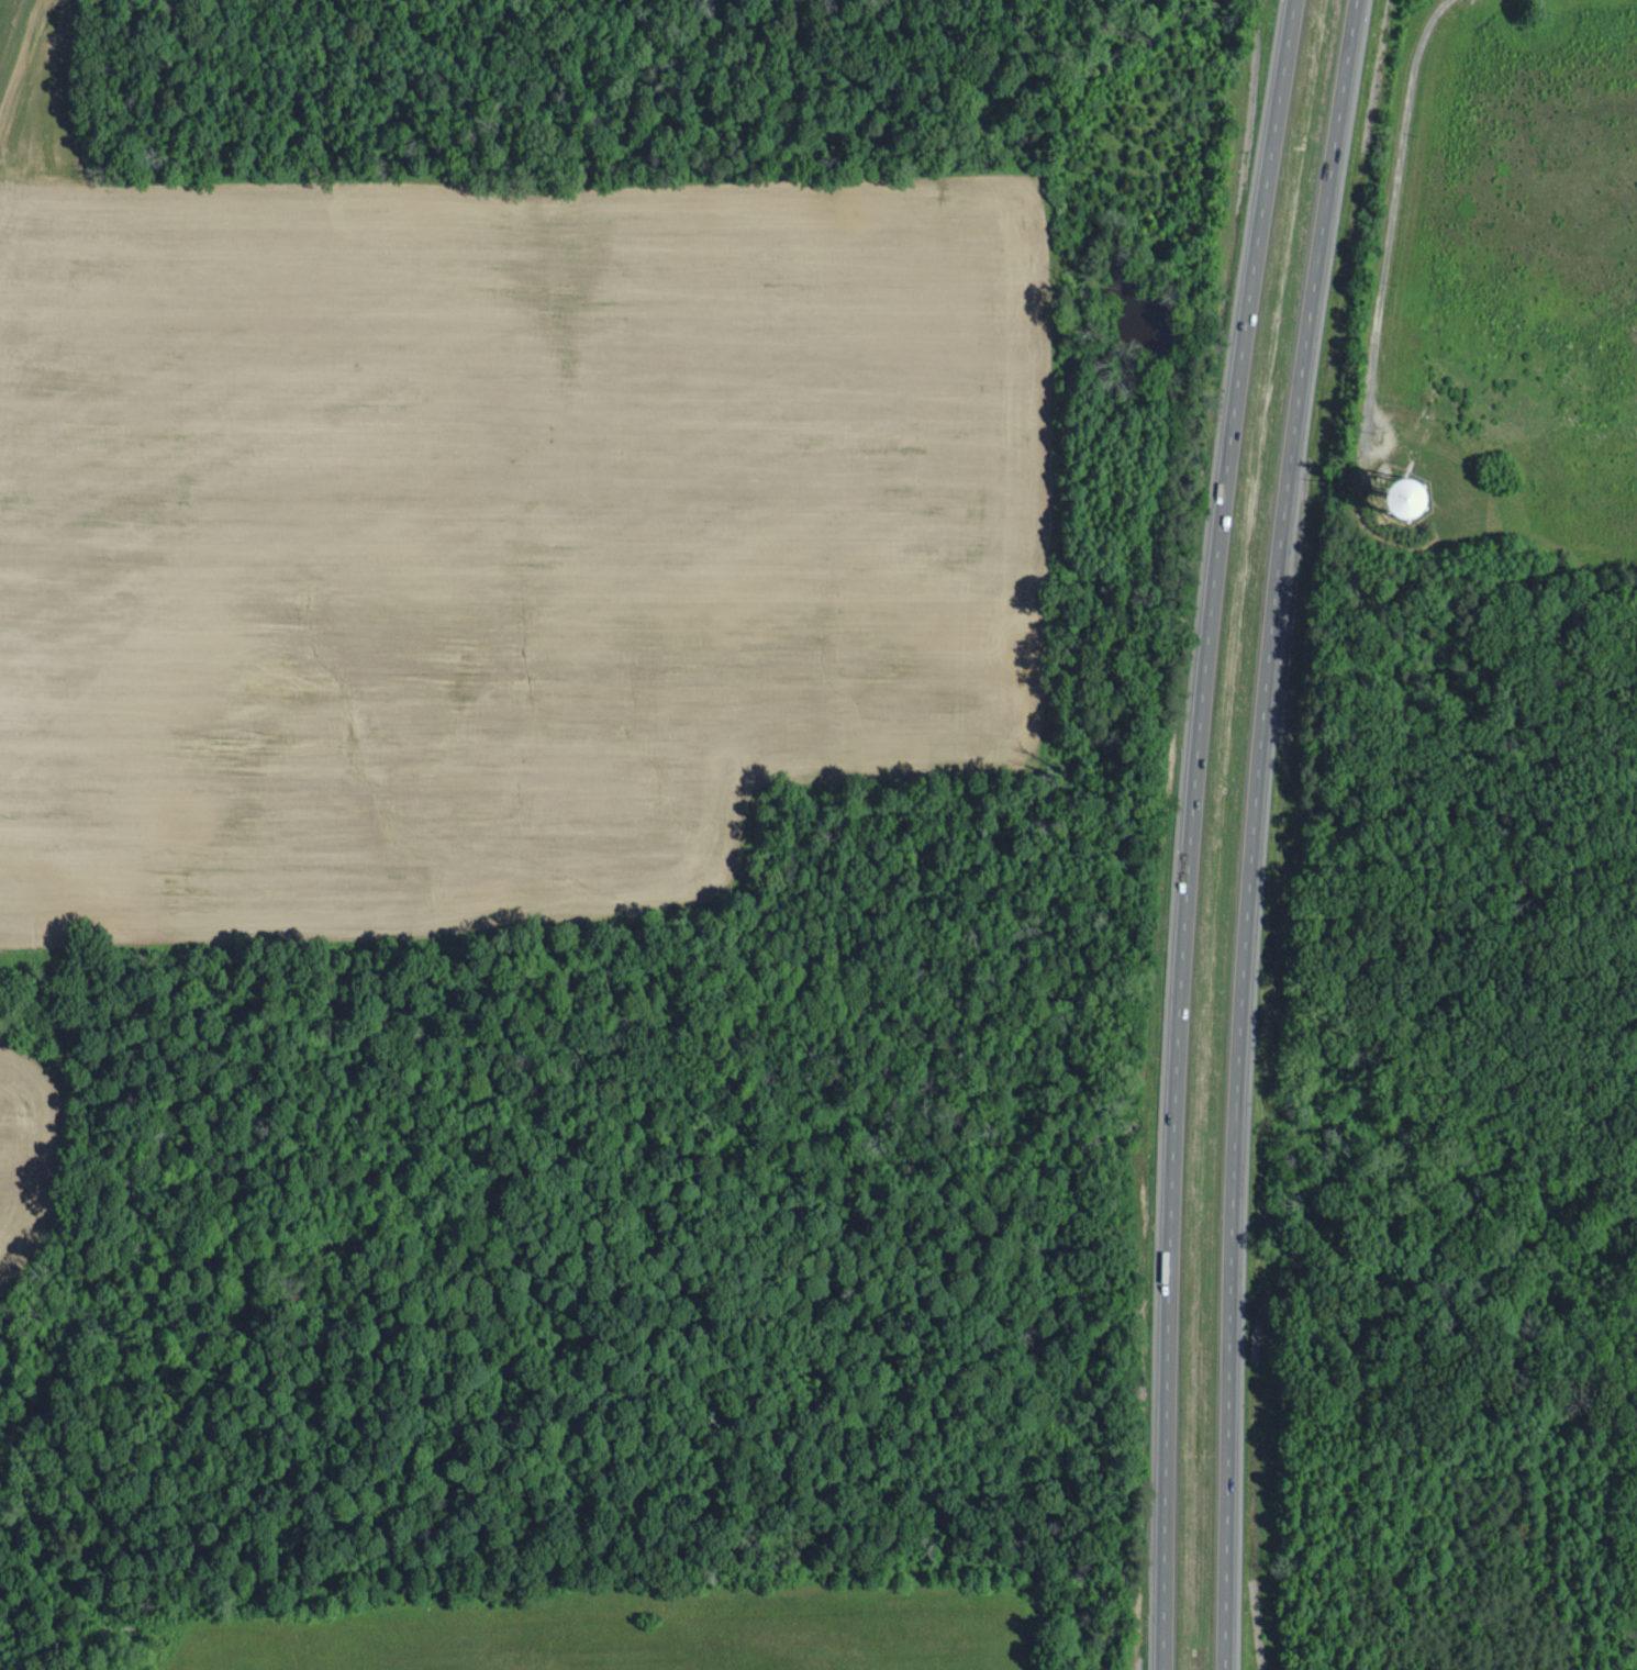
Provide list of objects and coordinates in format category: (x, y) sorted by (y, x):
road: (1192, 832)
road: (1251, 832)

